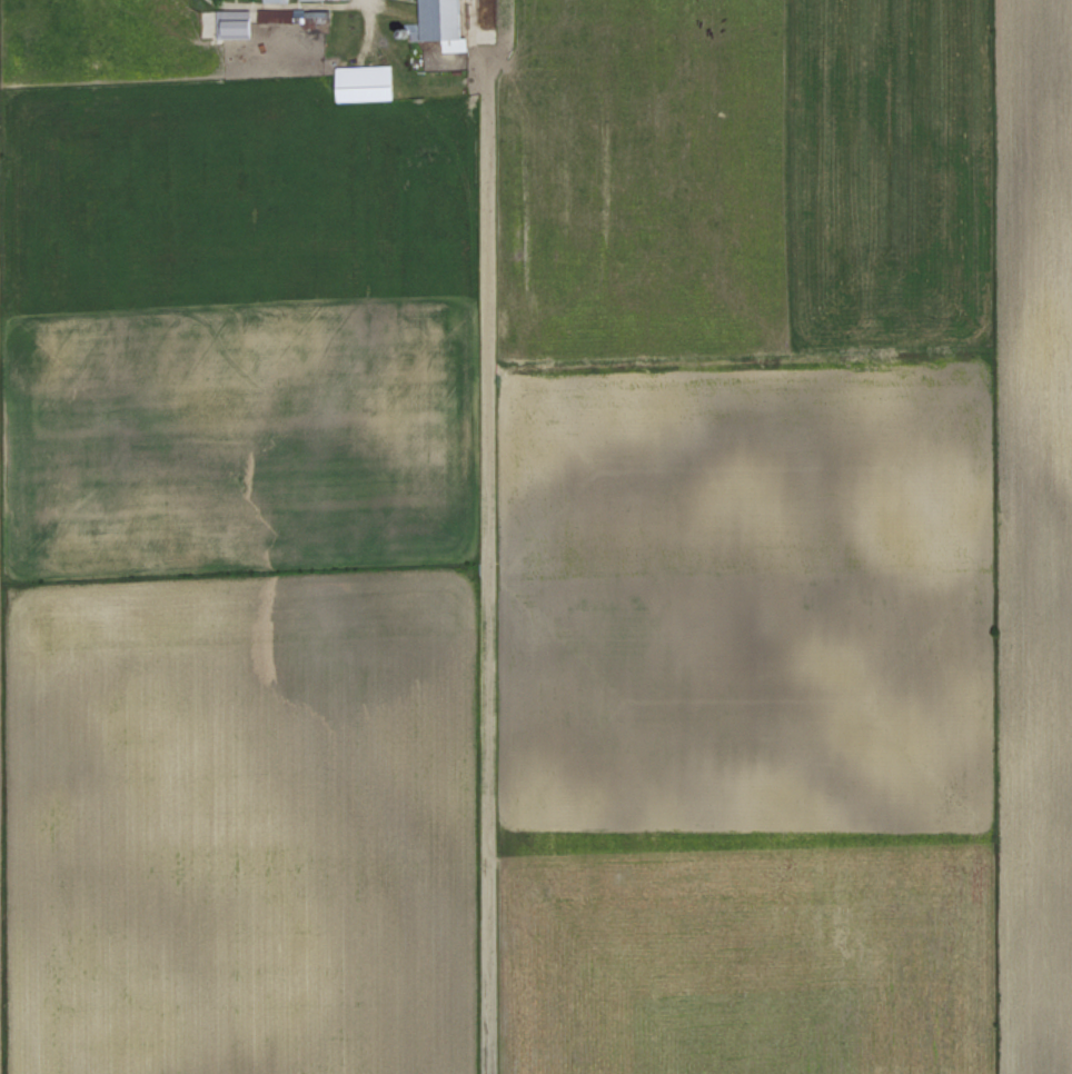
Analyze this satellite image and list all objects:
road: (286, 4)
building: (445, 19)
building: (366, 81)

